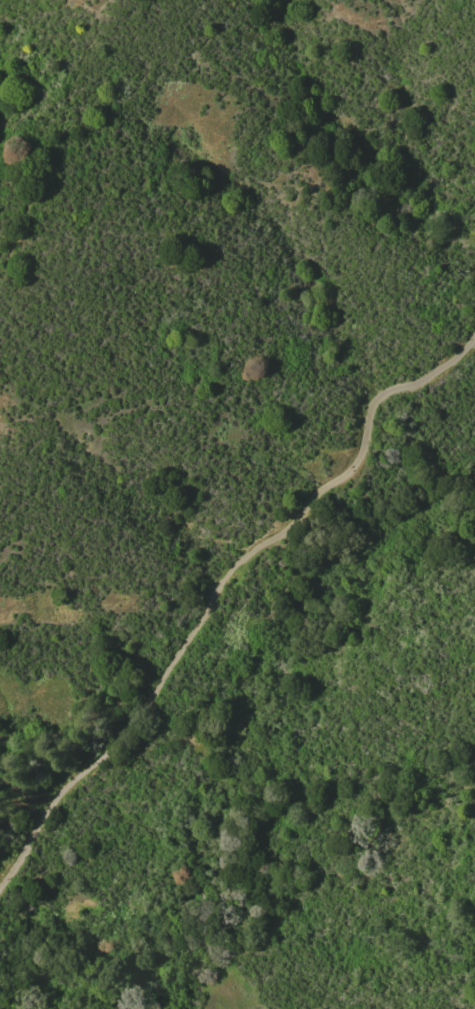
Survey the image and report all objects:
road: (50, 144)
road: (217, 590)

